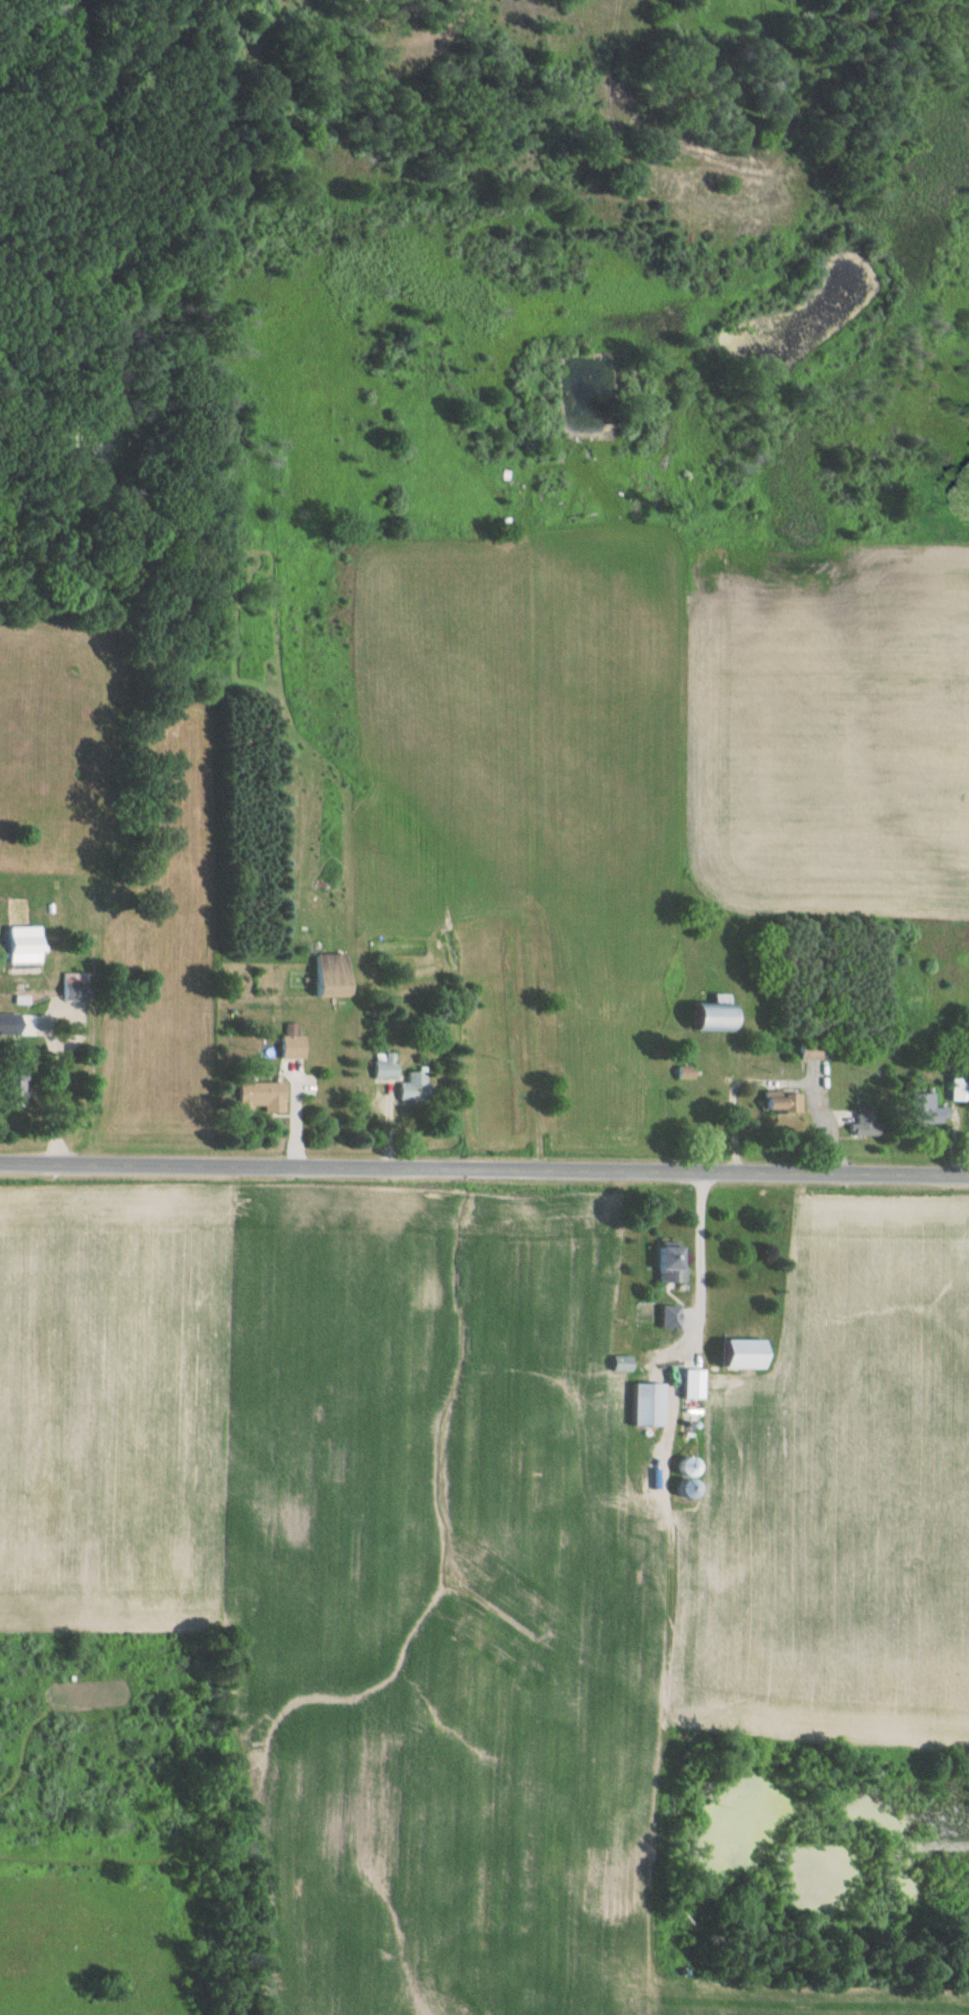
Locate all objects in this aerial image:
building: (22, 944)
building: (327, 975)
building: (70, 985)
building: (707, 1015)
building: (4, 1019)
building: (289, 1042)
building: (811, 1051)
building: (381, 1066)
building: (8, 1087)
building: (411, 1087)
building: (954, 1090)
building: (257, 1097)
building: (778, 1102)
building: (919, 1109)
building: (864, 1125)
road: (484, 1165)
road: (699, 1238)
building: (663, 1263)
building: (664, 1317)
building: (730, 1355)
building: (617, 1364)
building: (687, 1384)
building: (644, 1405)

